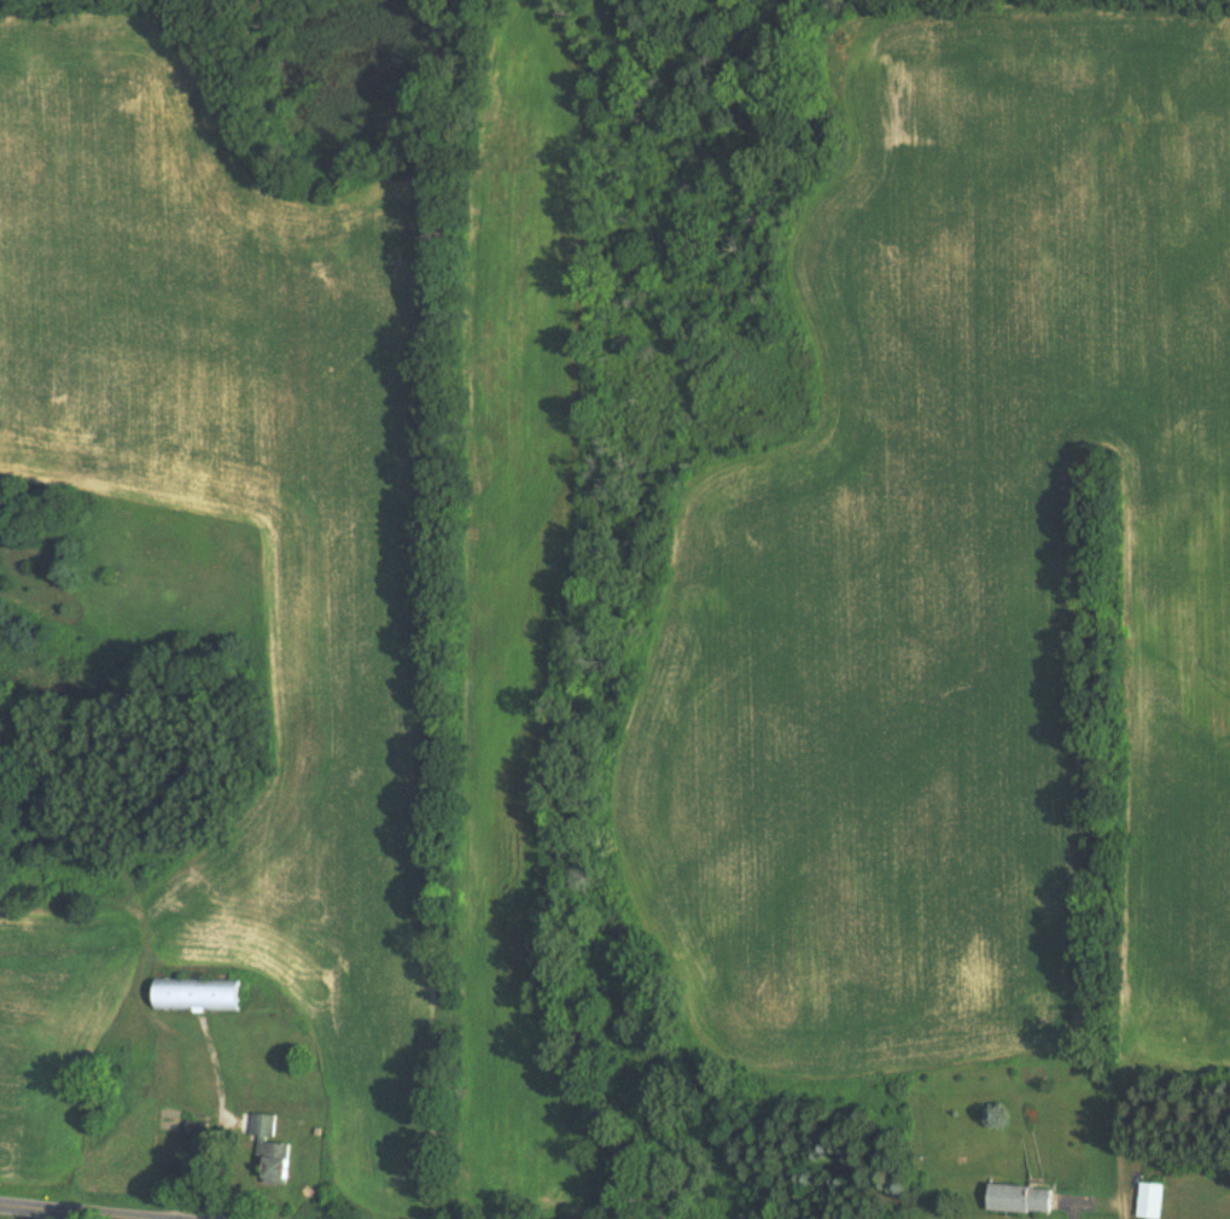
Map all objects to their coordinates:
building: (197, 995)
building: (273, 1149)
building: (1020, 1198)
building: (1150, 1200)
road: (75, 1211)

